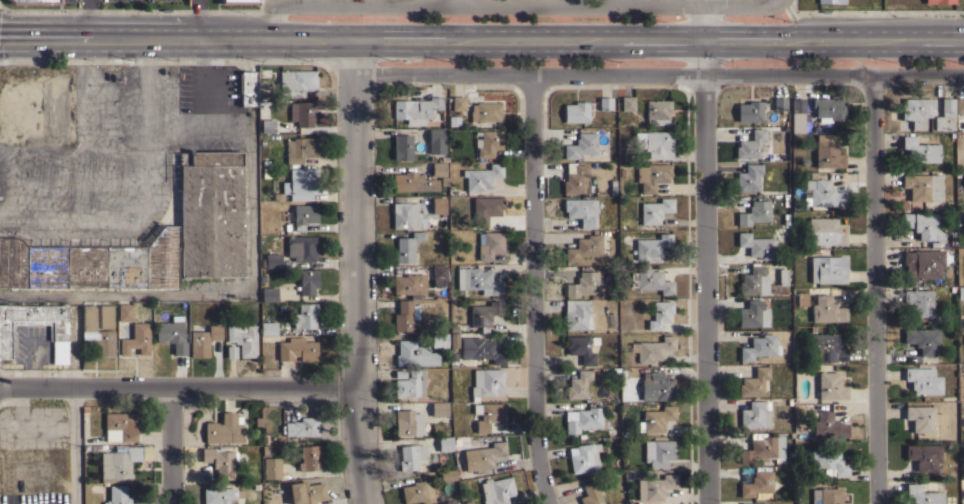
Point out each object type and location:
building: (34, 1)
building: (831, 1)
building: (938, 1)
building: (238, 2)
road: (458, 3)
road: (620, 3)
road: (782, 4)
road: (528, 6)
road: (89, 21)
road: (199, 21)
road: (702, 24)
road: (481, 41)
road: (661, 76)
building: (295, 82)
building: (248, 88)
building: (458, 102)
building: (605, 103)
building: (627, 103)
building: (779, 103)
building: (797, 105)
building: (959, 105)
building: (416, 109)
building: (827, 109)
building: (916, 110)
building: (487, 111)
building: (657, 111)
building: (749, 111)
building: (576, 112)
building: (301, 113)
building: (945, 115)
building: (267, 125)
building: (436, 140)
building: (488, 142)
building: (654, 143)
building: (750, 144)
building: (580, 145)
building: (402, 146)
building: (299, 149)
building: (920, 150)
building: (827, 152)
building: (438, 169)
building: (652, 175)
building: (481, 176)
building: (748, 177)
building: (574, 178)
building: (963, 179)
building: (412, 182)
building: (301, 183)
building: (583, 183)
building: (923, 186)
building: (822, 193)
building: (277, 196)
building: (438, 204)
building: (485, 209)
building: (581, 210)
building: (654, 210)
building: (209, 212)
building: (754, 212)
building: (406, 214)
building: (301, 215)
building: (923, 225)
building: (825, 232)
road: (253, 241)
building: (489, 244)
building: (962, 244)
building: (756, 245)
building: (407, 246)
building: (302, 247)
building: (584, 248)
building: (649, 248)
building: (271, 260)
building: (90, 261)
building: (923, 263)
building: (828, 269)
building: (439, 271)
road: (361, 272)
building: (782, 275)
building: (478, 280)
building: (650, 280)
building: (753, 280)
building: (307, 281)
building: (583, 283)
building: (407, 284)
road: (531, 290)
road: (705, 290)
road: (874, 290)
building: (960, 292)
building: (269, 294)
building: (802, 298)
building: (919, 302)
building: (826, 310)
building: (124, 312)
building: (484, 314)
building: (577, 314)
building: (660, 314)
building: (753, 314)
building: (305, 315)
building: (405, 315)
building: (106, 316)
building: (268, 328)
building: (58, 332)
building: (96, 333)
building: (172, 333)
building: (133, 337)
building: (243, 339)
building: (923, 339)
building: (203, 340)
building: (439, 340)
building: (453, 341)
building: (759, 347)
building: (580, 348)
building: (652, 348)
building: (826, 348)
building: (297, 349)
building: (481, 349)
building: (231, 352)
building: (414, 354)
building: (786, 369)
building: (400, 374)
building: (923, 380)
building: (753, 382)
building: (486, 383)
building: (410, 384)
building: (578, 385)
building: (656, 385)
building: (830, 386)
road: (181, 391)
building: (439, 409)
building: (488, 415)
building: (755, 415)
building: (655, 418)
building: (923, 418)
building: (582, 419)
building: (408, 422)
building: (120, 426)
building: (828, 426)
building: (301, 427)
building: (224, 429)
building: (445, 443)
road: (73, 447)
road: (169, 447)
building: (764, 448)
building: (657, 452)
building: (411, 456)
building: (924, 456)
building: (310, 457)
building: (483, 457)
building: (583, 457)
building: (220, 461)
building: (118, 462)
building: (829, 462)
building: (271, 467)
building: (447, 474)
building: (757, 483)
building: (654, 487)
building: (496, 490)
building: (417, 491)
building: (306, 492)
building: (590, 493)
building: (222, 494)
building: (922, 494)
building: (118, 495)
building: (826, 496)
building: (443, 502)
building: (754, 503)

